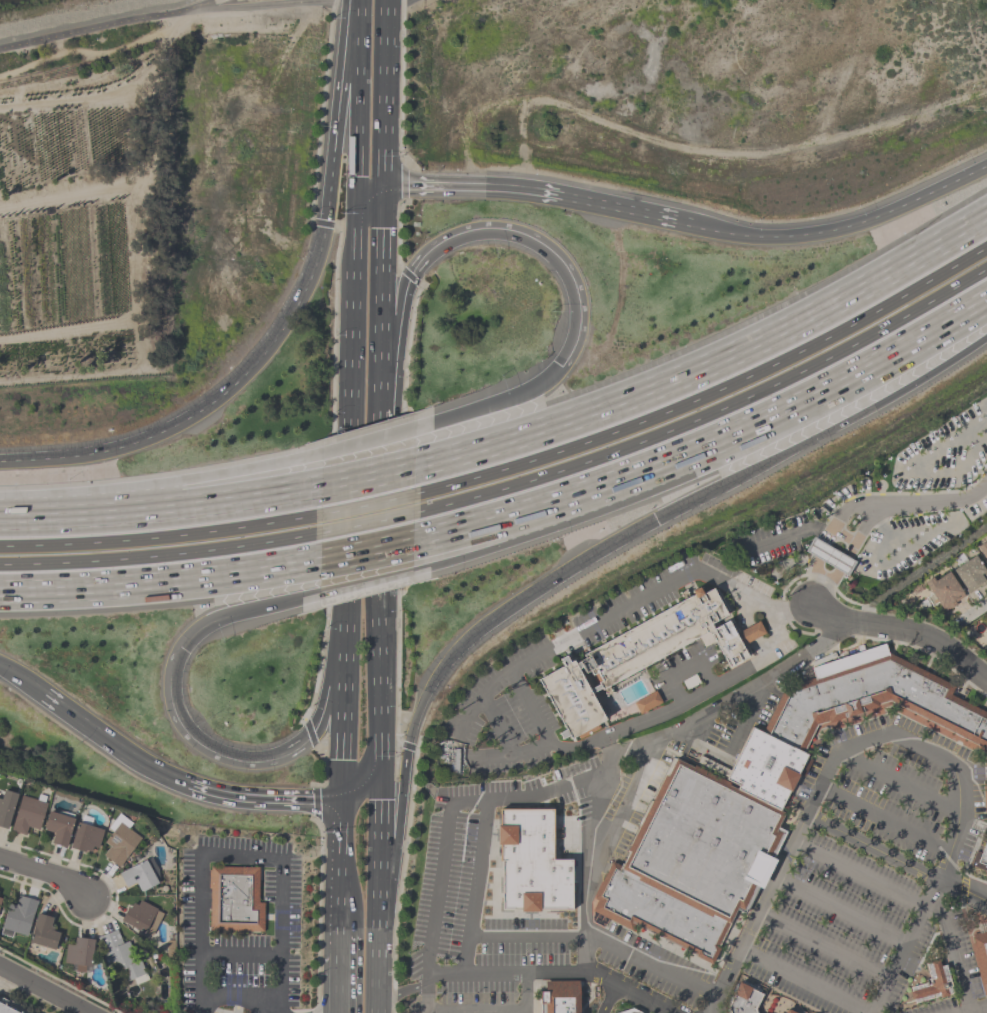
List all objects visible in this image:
road: (391, 0)
road: (357, 3)
road: (200, 4)
road: (272, 5)
road: (93, 28)
road: (384, 93)
road: (357, 107)
traffic signals: (383, 187)
road: (477, 187)
road: (370, 197)
traffic signals: (358, 207)
crop: (73, 215)
road: (652, 215)
road: (864, 219)
road: (481, 233)
road: (381, 289)
road: (282, 324)
traffic signals: (561, 366)
road: (711, 370)
road: (710, 395)
road: (491, 404)
road: (352, 410)
road: (709, 416)
road: (983, 418)
road: (824, 433)
road: (368, 440)
road: (710, 449)
road: (921, 475)
road: (367, 478)
road: (162, 482)
road: (378, 491)
road: (933, 504)
road: (367, 505)
road: (161, 508)
traffic signals: (656, 518)
road: (366, 523)
road: (553, 525)
road: (161, 535)
road: (786, 536)
road: (843, 539)
road: (827, 541)
building: (982, 550)
road: (365, 551)
road: (161, 556)
building: (830, 556)
road: (846, 561)
building: (969, 574)
road: (366, 583)
road: (160, 585)
road: (536, 589)
building: (942, 591)
road: (245, 609)
building: (985, 631)
road: (902, 637)
road: (568, 639)
building: (986, 639)
traffic signals: (179, 645)
building: (637, 658)
road: (685, 668)
road: (17, 674)
road: (381, 674)
road: (732, 697)
road: (683, 701)
building: (646, 702)
road: (530, 707)
road: (345, 708)
building: (845, 719)
road: (92, 726)
road: (497, 726)
road: (736, 741)
road: (264, 760)
road: (381, 766)
road: (831, 767)
traffic signals: (381, 776)
road: (403, 780)
road: (903, 784)
road: (361, 789)
road: (244, 797)
traffic signals: (342, 802)
building: (6, 806)
building: (28, 813)
road: (452, 816)
road: (885, 823)
building: (58, 827)
road: (379, 827)
building: (85, 837)
building: (119, 840)
building: (703, 842)
road: (593, 853)
building: (982, 856)
road: (238, 857)
building: (530, 860)
road: (895, 862)
road: (341, 866)
road: (47, 874)
building: (140, 874)
road: (859, 876)
road: (474, 889)
building: (0, 894)
road: (932, 897)
building: (234, 902)
road: (840, 912)
building: (17, 916)
building: (141, 916)
building: (658, 916)
road: (914, 927)
building: (43, 932)
road: (340, 941)
road: (601, 942)
road: (377, 946)
road: (824, 949)
road: (241, 951)
building: (78, 953)
road: (954, 954)
building: (122, 956)
building: (980, 956)
road: (896, 963)
road: (562, 973)
road: (340, 982)
road: (807, 982)
building: (930, 985)
road: (404, 989)
road: (40, 991)
road: (881, 997)
road: (608, 998)
building: (557, 999)
building: (744, 1000)
road: (241, 1001)
road: (328, 1008)
road: (265, 1009)
building: (4, 1010)
building: (633, 1011)
road: (675, 1011)
road: (479, 1012)
building: (789, 1012)
road: (985, 1012)

